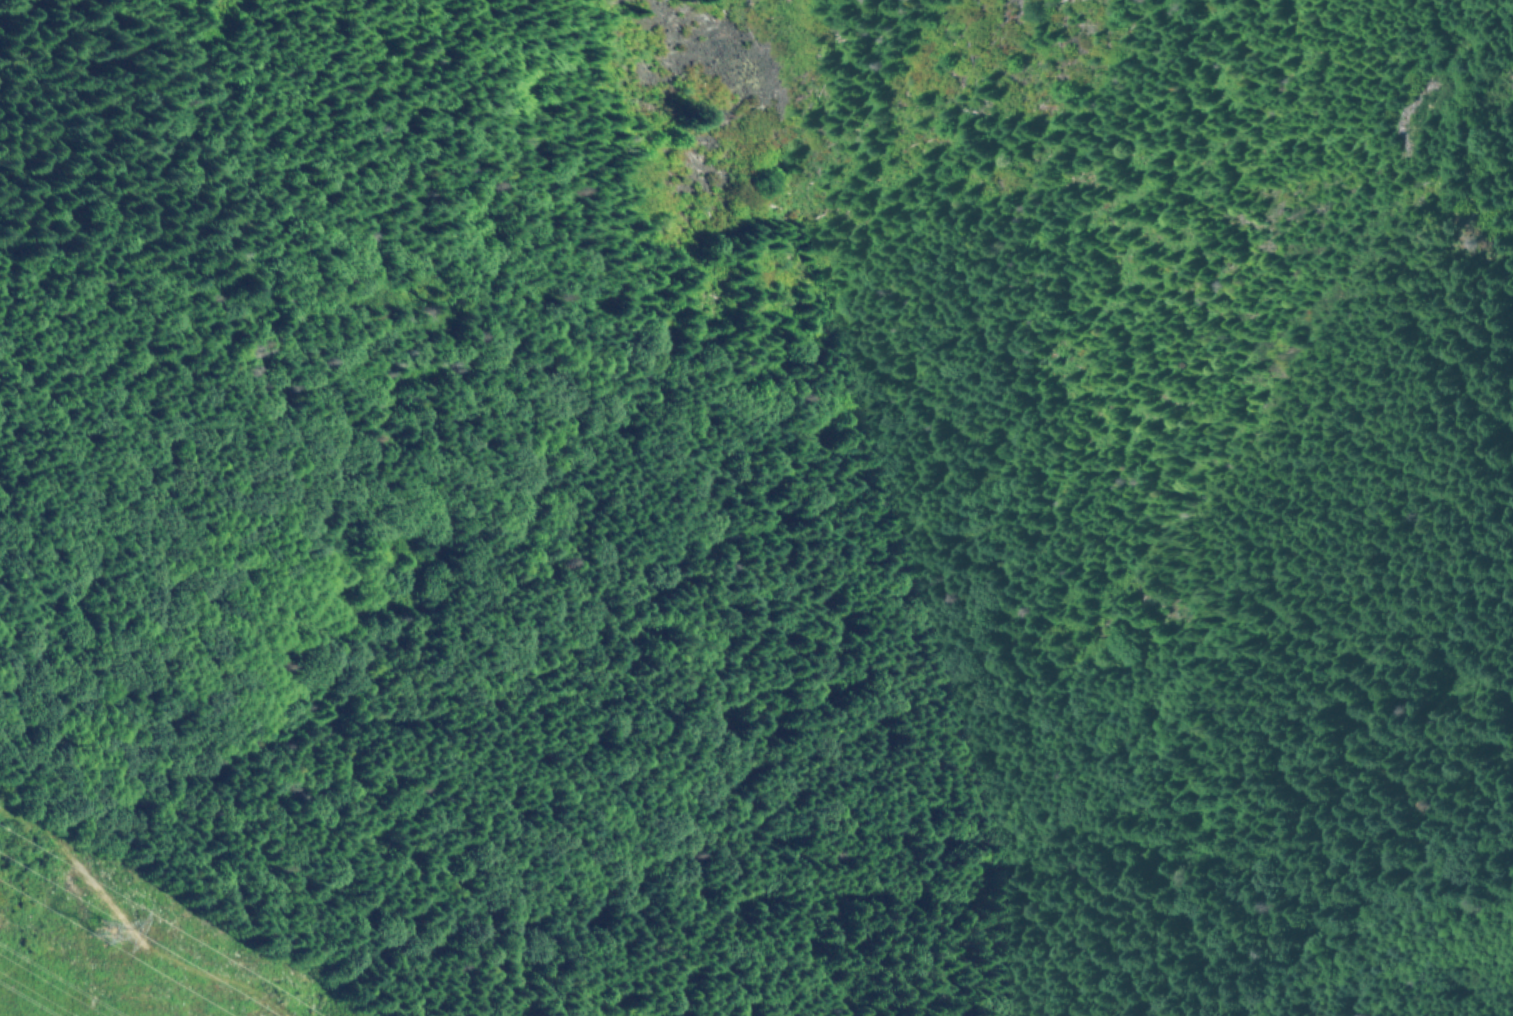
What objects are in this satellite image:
power tower: (100, 930)

